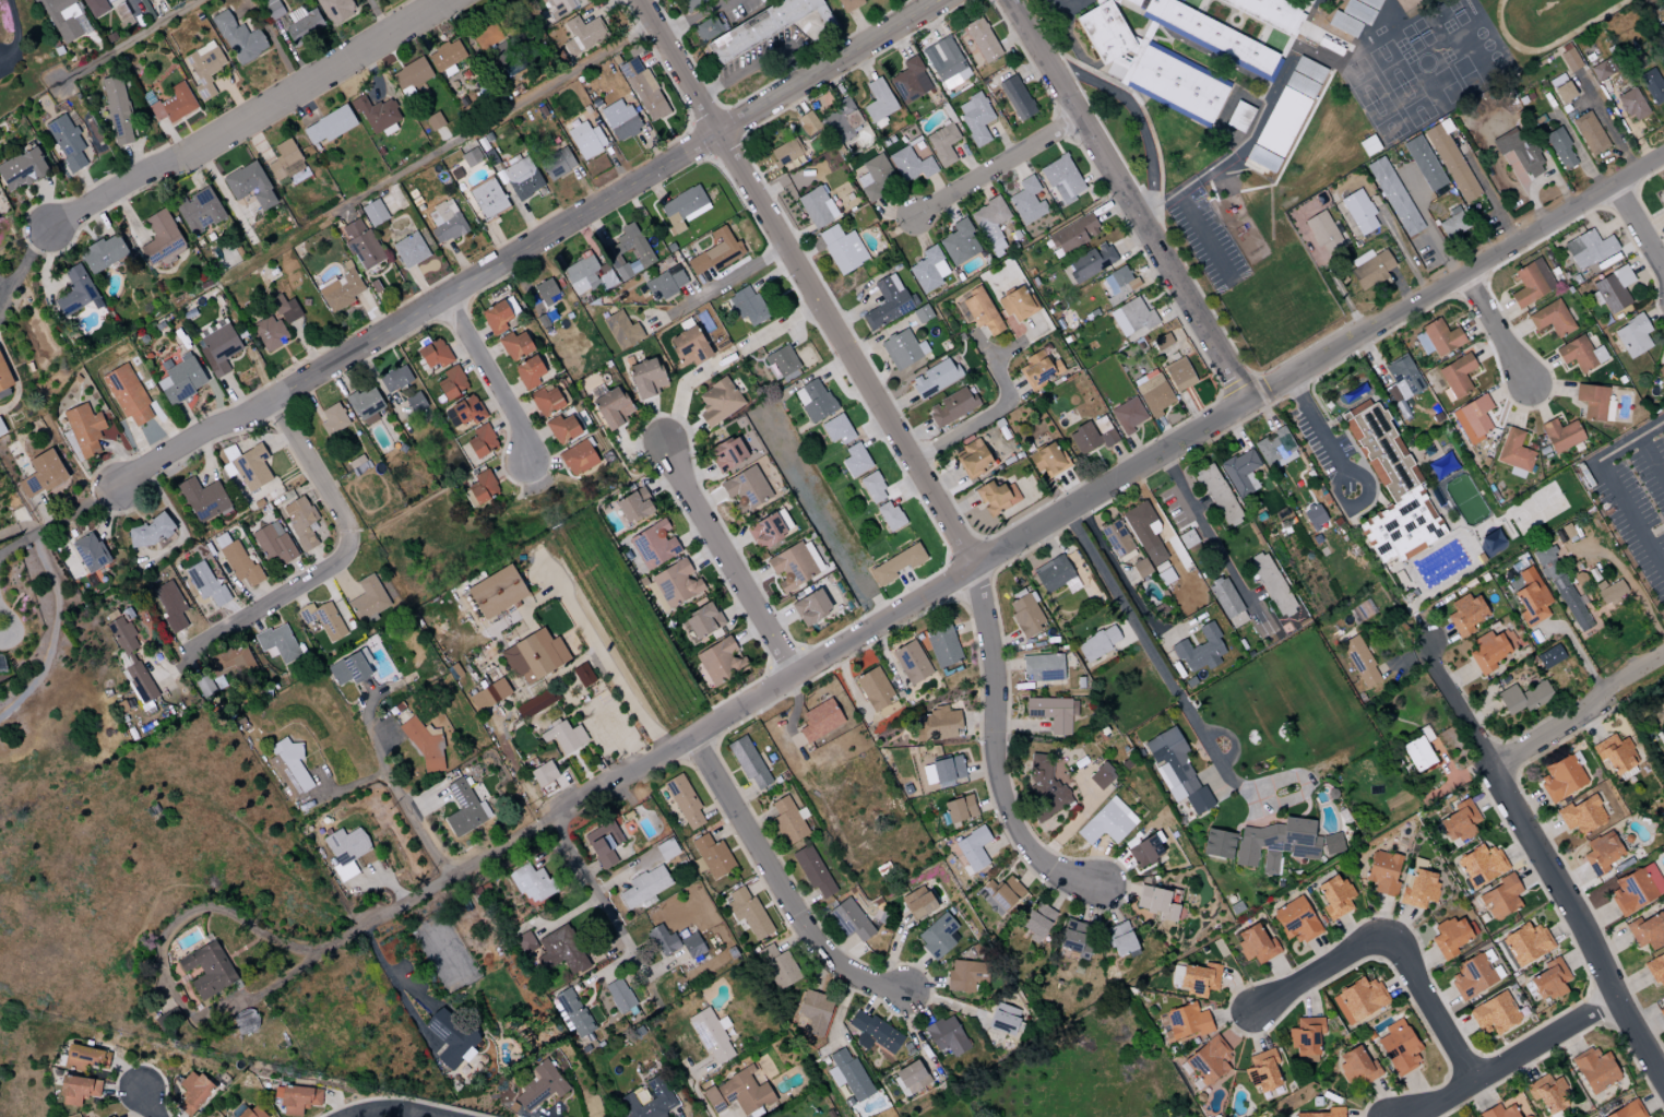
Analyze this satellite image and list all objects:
building: (1097, 1)
building: (1114, 1)
building: (1341, 1)
road: (1074, 2)
building: (1133, 2)
building: (691, 3)
building: (1370, 3)
building: (848, 4)
building: (560, 7)
building: (95, 8)
building: (272, 8)
building: (334, 10)
parking lot: (1066, 11)
building: (1357, 11)
building: (1270, 13)
road: (691, 16)
building: (63, 19)
track: (1546, 21)
park: (1542, 23)
building: (302, 24)
building: (1344, 24)
building: (763, 26)
building: (1312, 26)
building: (708, 27)
road: (14, 32)
building: (1105, 32)
building: (582, 35)
building: (483, 37)
building: (1212, 37)
building: (238, 38)
building: (982, 39)
building: (1327, 40)
road: (128, 41)
building: (1132, 52)
building: (510, 57)
building: (445, 58)
building: (1569, 60)
road: (752, 63)
building: (946, 63)
building: (204, 68)
park: (1424, 69)
building: (1309, 70)
building: (1602, 70)
road: (1092, 71)
building: (1115, 71)
building: (411, 76)
building: (910, 81)
building: (1176, 84)
building: (1300, 85)
building: (1652, 86)
building: (642, 88)
building: (1562, 93)
building: (1017, 98)
road: (1268, 98)
building: (878, 102)
building: (173, 104)
building: (1631, 104)
building: (117, 108)
road: (1134, 112)
building: (377, 115)
building: (1239, 117)
road: (252, 118)
building: (974, 118)
building: (852, 119)
building: (620, 120)
building: (433, 121)
building: (837, 121)
building: (1282, 121)
building: (808, 123)
building: (329, 126)
road: (1607, 127)
building: (1589, 133)
building: (585, 140)
building: (66, 141)
building: (942, 143)
building: (1182, 143)
building: (1559, 148)
building: (786, 152)
road: (435, 153)
road: (1156, 153)
road: (1581, 155)
building: (1518, 156)
building: (471, 157)
building: (1262, 158)
building: (284, 162)
building: (556, 163)
building: (1450, 163)
building: (1423, 164)
building: (910, 165)
road: (998, 167)
building: (22, 168)
building: (872, 177)
building: (522, 178)
building: (1061, 179)
road: (1271, 181)
building: (249, 185)
road: (1211, 189)
building: (1662, 191)
road: (1173, 194)
building: (1393, 197)
building: (487, 199)
road: (1129, 200)
building: (1026, 201)
road: (1490, 201)
building: (816, 206)
road: (1141, 206)
building: (1663, 206)
building: (682, 207)
building: (198, 210)
building: (1358, 212)
building: (373, 213)
building: (444, 222)
building: (989, 223)
building: (1452, 223)
road: (1638, 228)
building: (1073, 234)
building: (1322, 234)
building: (159, 237)
road: (1203, 237)
parking lot: (1207, 240)
road: (1168, 241)
building: (959, 242)
building: (360, 243)
road: (528, 247)
building: (842, 249)
building: (1588, 249)
building: (409, 250)
building: (628, 251)
building: (715, 252)
building: (103, 253)
building: (1091, 262)
road: (23, 264)
building: (1369, 269)
building: (928, 270)
road: (732, 275)
building: (584, 276)
road: (1455, 280)
road: (805, 282)
building: (665, 283)
building: (1531, 283)
building: (1119, 284)
building: (1612, 289)
building: (75, 292)
building: (546, 293)
building: (888, 302)
building: (1017, 304)
building: (747, 306)
road: (1269, 307)
building: (285, 309)
building: (980, 310)
building: (499, 316)
building: (1550, 319)
building: (621, 330)
road: (1495, 330)
building: (269, 333)
building: (1632, 336)
building: (1437, 338)
building: (1162, 341)
road: (1015, 345)
building: (514, 346)
building: (689, 346)
building: (218, 349)
building: (900, 349)
building: (1662, 352)
building: (433, 354)
building: (1580, 354)
building: (782, 360)
road: (718, 361)
building: (1039, 369)
building: (1661, 370)
building: (527, 372)
building: (1178, 375)
building: (3, 377)
road: (489, 377)
building: (1455, 377)
building: (394, 378)
building: (645, 378)
building: (935, 378)
building: (180, 379)
building: (1401, 381)
building: (452, 383)
road: (1237, 383)
road: (1262, 389)
building: (1152, 392)
building: (127, 394)
building: (547, 401)
building: (813, 401)
building: (717, 402)
building: (1591, 402)
building: (415, 403)
building: (365, 405)
building: (951, 406)
building: (611, 407)
building: (464, 411)
road: (991, 411)
building: (1127, 415)
building: (332, 419)
building: (1472, 419)
building: (563, 428)
building: (1, 429)
building: (83, 429)
building: (836, 429)
road: (1318, 432)
building: (1559, 435)
building: (1090, 438)
building: (482, 441)
building: (1275, 449)
building: (727, 453)
building: (1513, 453)
building: (578, 458)
building: (972, 459)
building: (855, 460)
building: (1047, 460)
road: (1650, 460)
building: (358, 465)
building: (248, 466)
building: (1240, 472)
building: (41, 474)
road: (1610, 483)
building: (872, 487)
building: (480, 488)
building: (746, 488)
building: (1391, 489)
building: (1217, 495)
building: (996, 496)
building: (202, 499)
building: (633, 506)
road: (71, 512)
road: (819, 514)
building: (889, 515)
building: (1314, 516)
building: (299, 522)
road: (17, 528)
building: (769, 530)
building: (148, 532)
building: (1144, 532)
road: (1207, 532)
building: (1115, 538)
building: (1491, 542)
building: (273, 543)
building: (653, 545)
road: (13, 548)
building: (90, 552)
road: (344, 556)
road: (725, 559)
building: (237, 561)
building: (793, 565)
building: (895, 565)
building: (1141, 568)
road: (1626, 577)
building: (205, 583)
building: (1271, 584)
building: (673, 585)
building: (1561, 589)
building: (495, 591)
building: (1612, 594)
building: (1530, 597)
building: (367, 599)
building: (1226, 603)
building: (169, 605)
building: (810, 607)
building: (1025, 615)
building: (1465, 615)
building: (322, 619)
building: (703, 620)
building: (120, 631)
building: (277, 643)
building: (1096, 643)
building: (942, 646)
building: (1200, 650)
building: (1489, 650)
road: (1577, 652)
building: (532, 655)
building: (1549, 656)
building: (720, 661)
building: (911, 662)
road: (1157, 662)
building: (1359, 662)
building: (231, 663)
road: (807, 667)
building: (1043, 667)
building: (347, 669)
building: (584, 673)
road: (616, 673)
building: (140, 681)
building: (487, 689)
building: (873, 689)
building: (1523, 698)
building: (533, 704)
road: (501, 713)
building: (1050, 713)
road: (1580, 714)
building: (819, 721)
building: (552, 722)
road: (587, 724)
building: (936, 725)
building: (563, 736)
road: (575, 749)
road: (993, 750)
building: (1417, 753)
building: (1614, 753)
building: (748, 762)
building: (288, 768)
road: (585, 770)
building: (1176, 771)
building: (543, 774)
building: (1101, 776)
building: (1560, 779)
building: (1046, 784)
road: (394, 792)
building: (684, 801)
building: (464, 809)
building: (959, 809)
building: (1581, 816)
building: (787, 820)
building: (1107, 822)
building: (1459, 822)
building: (603, 842)
building: (1281, 843)
building: (1217, 844)
building: (973, 848)
building: (666, 849)
building: (1144, 849)
building: (345, 851)
building: (1602, 853)
building: (711, 857)
road: (1543, 863)
building: (1481, 865)
building: (813, 871)
building: (1382, 871)
building: (531, 882)
building: (644, 886)
road: (778, 886)
building: (1418, 889)
building: (1636, 889)
building: (1003, 895)
building: (1334, 896)
road: (598, 898)
building: (1500, 898)
building: (917, 903)
building: (1155, 903)
building: (747, 912)
building: (849, 920)
building: (1295, 920)
building: (1037, 922)
building: (1647, 931)
building: (938, 936)
building: (1452, 936)
building: (1074, 938)
building: (1119, 939)
building: (663, 940)
building: (524, 942)
building: (1525, 943)
building: (1255, 944)
building: (691, 946)
building: (560, 951)
building: (777, 966)
building: (207, 969)
road: (387, 969)
building: (1655, 969)
road: (1318, 974)
building: (964, 975)
building: (1471, 976)
building: (1198, 978)
building: (1548, 981)
road: (169, 987)
building: (618, 996)
building: (1358, 999)
road: (1430, 1010)
building: (571, 1012)
building: (813, 1012)
building: (1661, 1012)
building: (1494, 1014)
building: (1003, 1019)
building: (245, 1021)
building: (1186, 1022)
building: (872, 1033)
building: (710, 1036)
building: (946, 1036)
building: (450, 1038)
building: (1305, 1038)
building: (1399, 1047)
building: (84, 1057)
building: (1209, 1060)
road: (1510, 1061)
building: (1356, 1066)
building: (1594, 1070)
building: (1262, 1071)
building: (848, 1076)
building: (911, 1077)
building: (539, 1086)
building: (76, 1090)
building: (192, 1092)
building: (1546, 1093)
road: (701, 1097)
building: (296, 1098)
building: (650, 1100)
road: (146, 1103)
road: (407, 1104)
building: (1519, 1105)
building: (1627, 1110)
building: (251, 1112)
building: (1498, 1112)
building: (1323, 1113)
building: (110, 1116)

